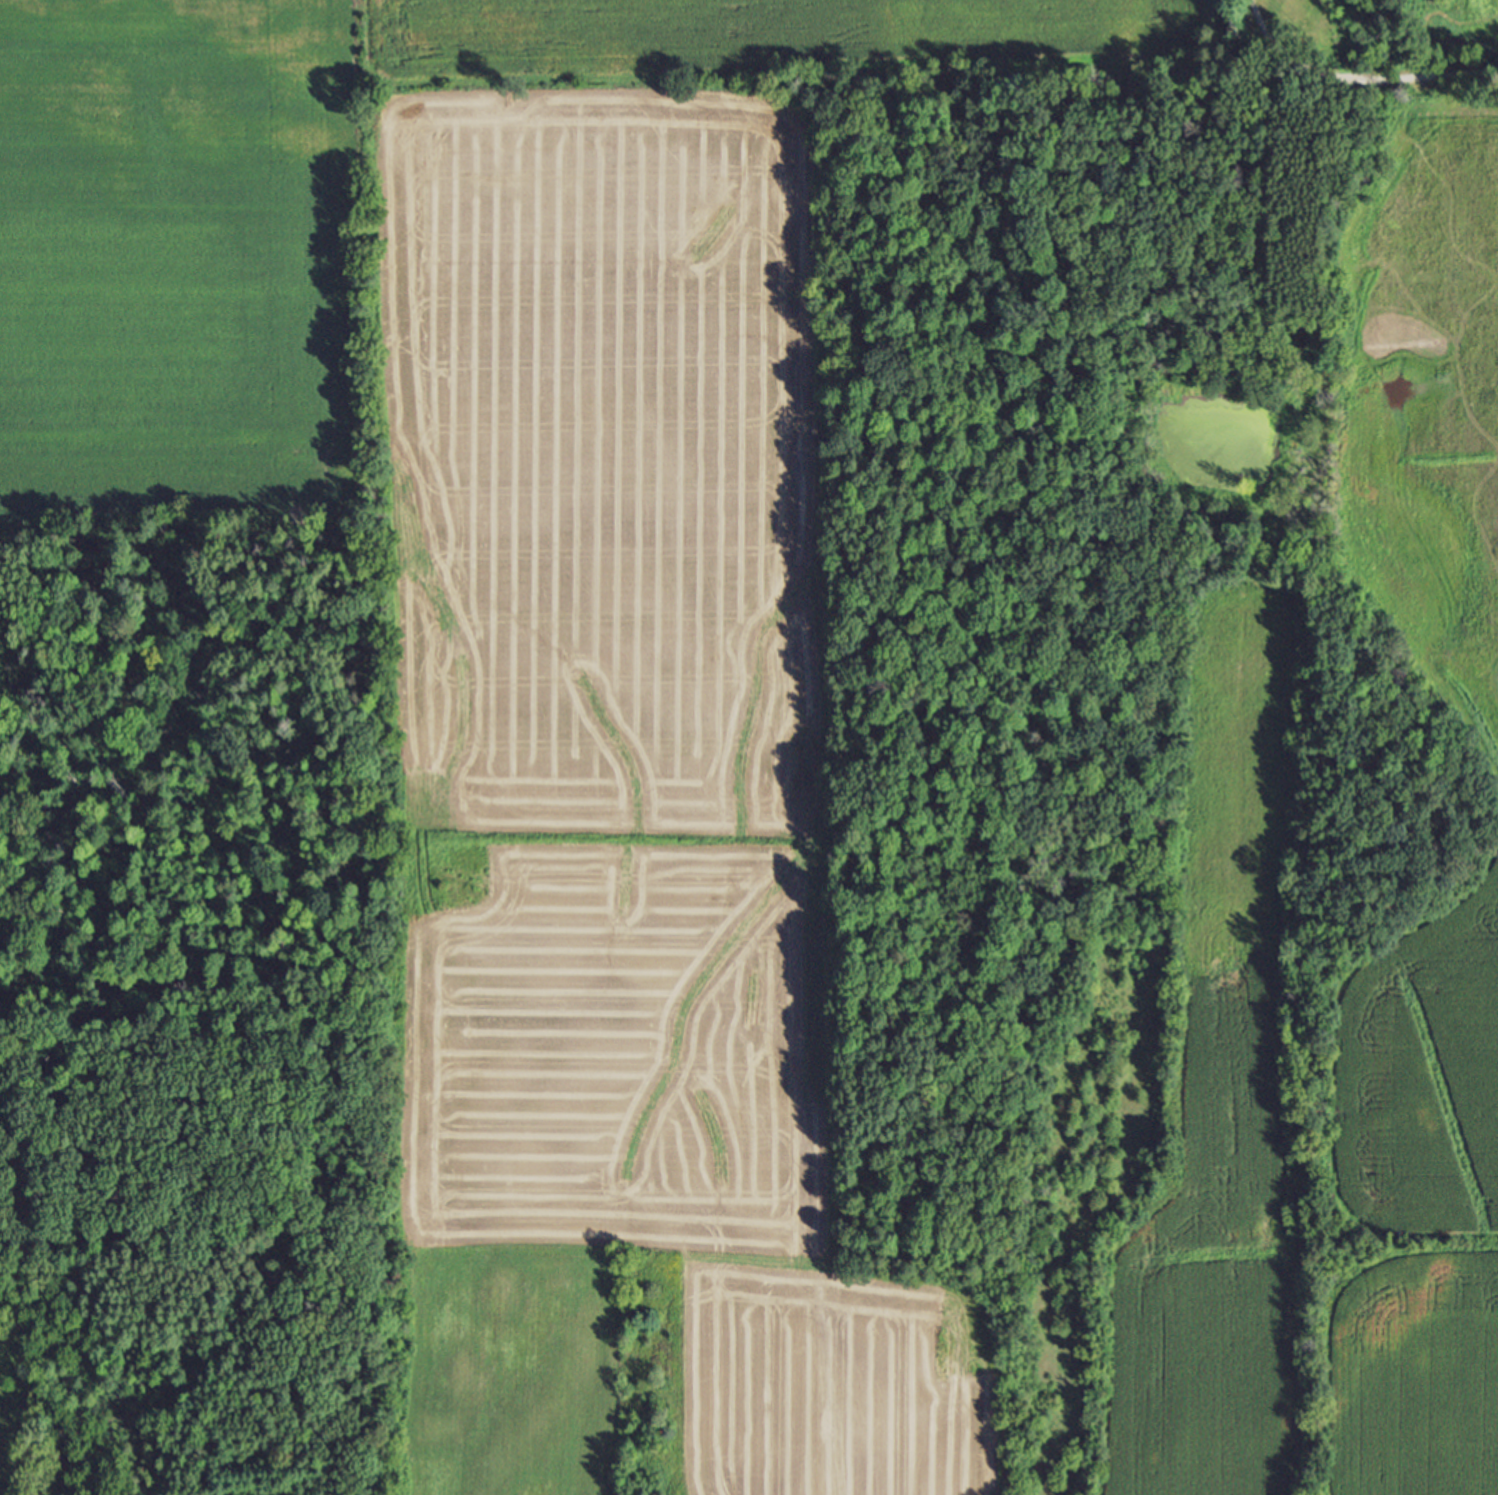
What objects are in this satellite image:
road: (1372, 59)

